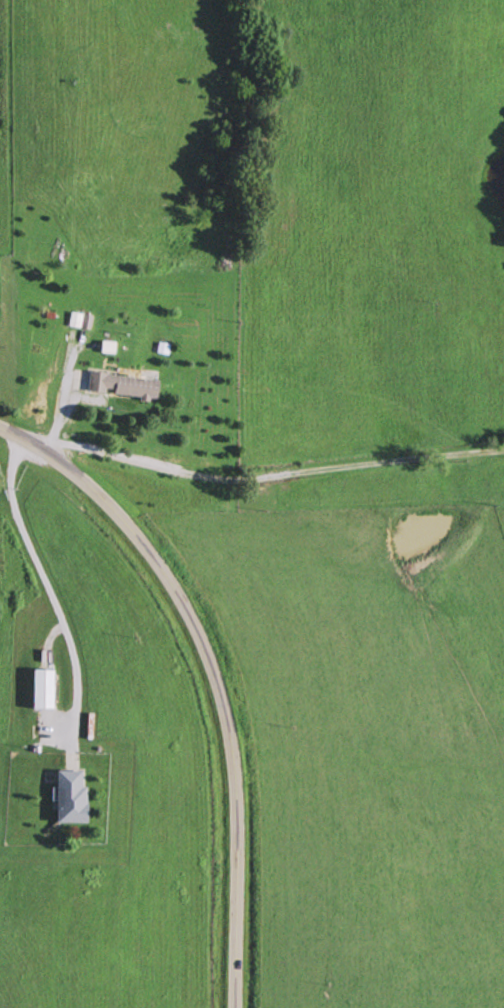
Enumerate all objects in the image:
building: (77, 321)
building: (119, 384)
road: (263, 478)
road: (212, 677)
building: (47, 687)
building: (75, 796)

